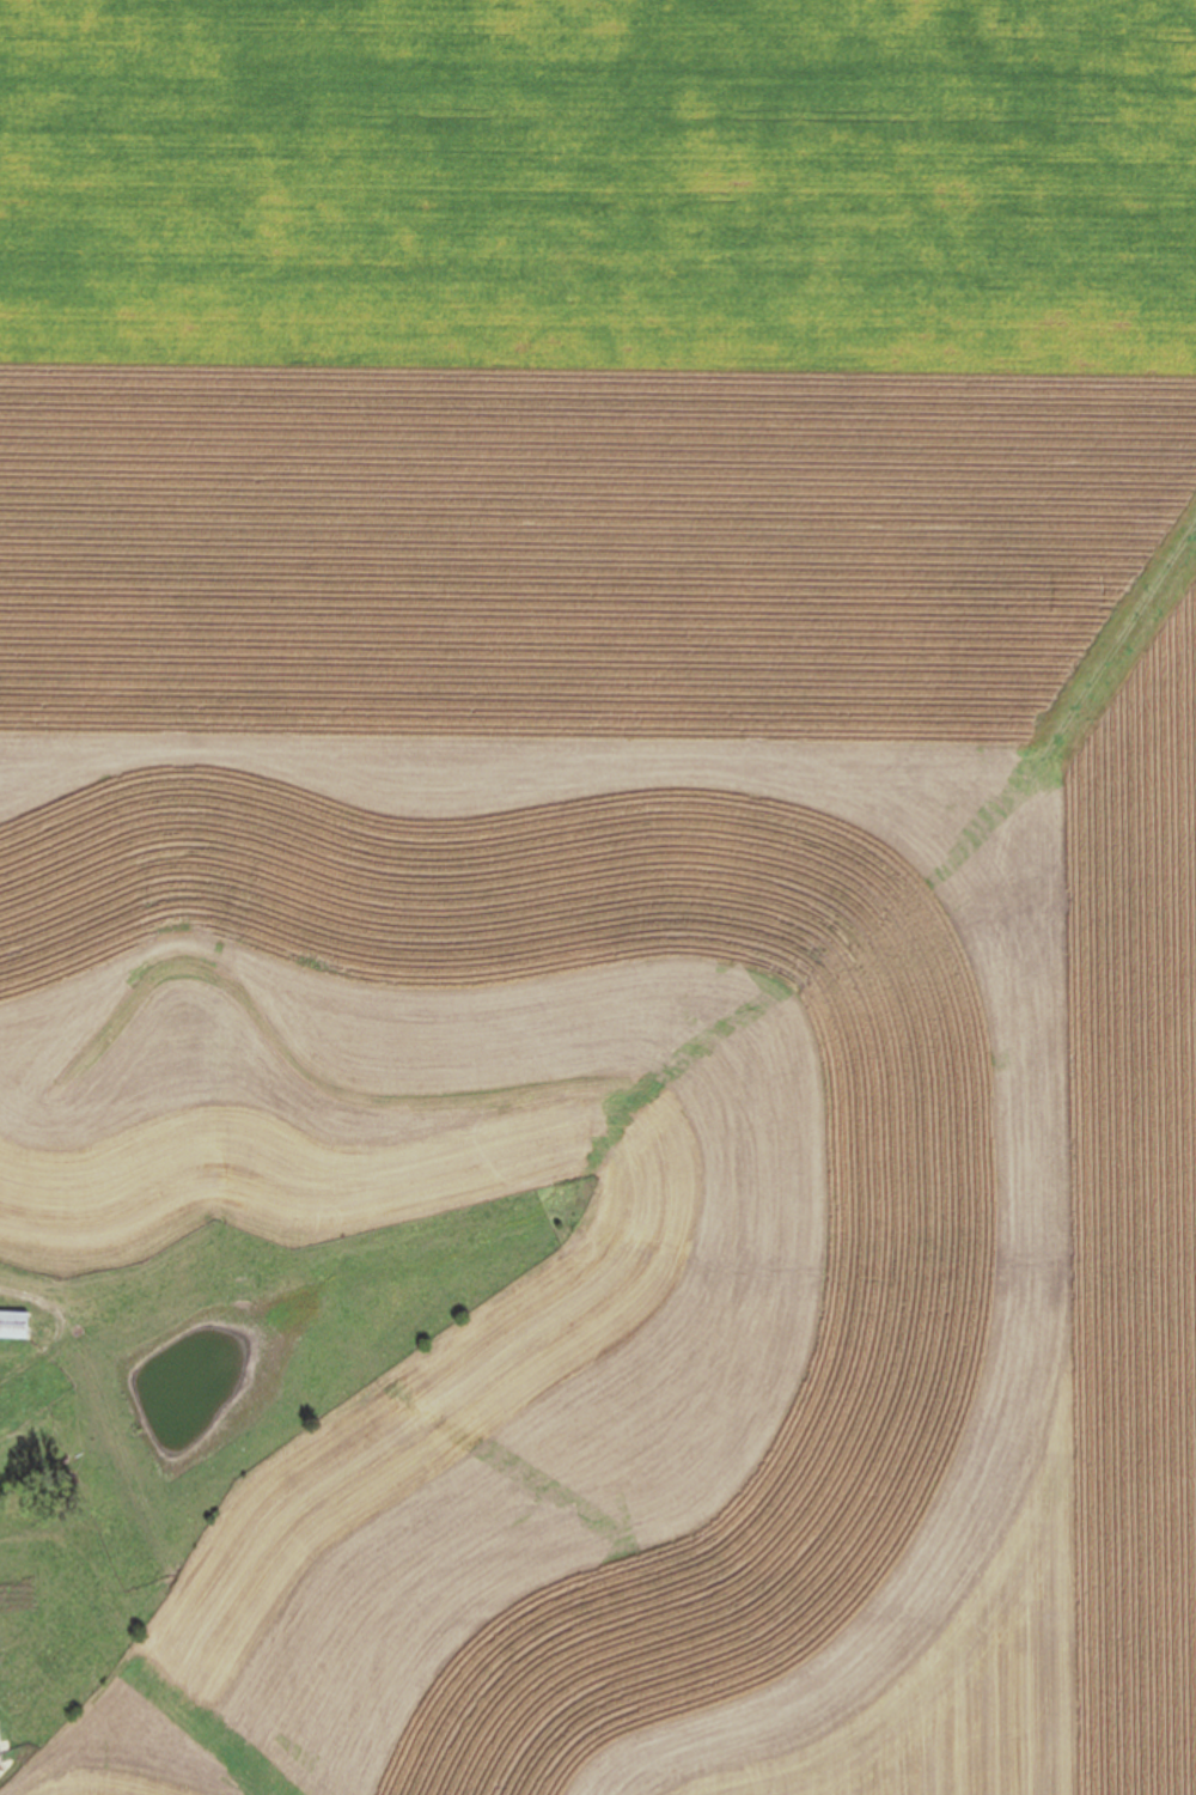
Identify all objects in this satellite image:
building: (13, 1326)
building: (0, 1744)

